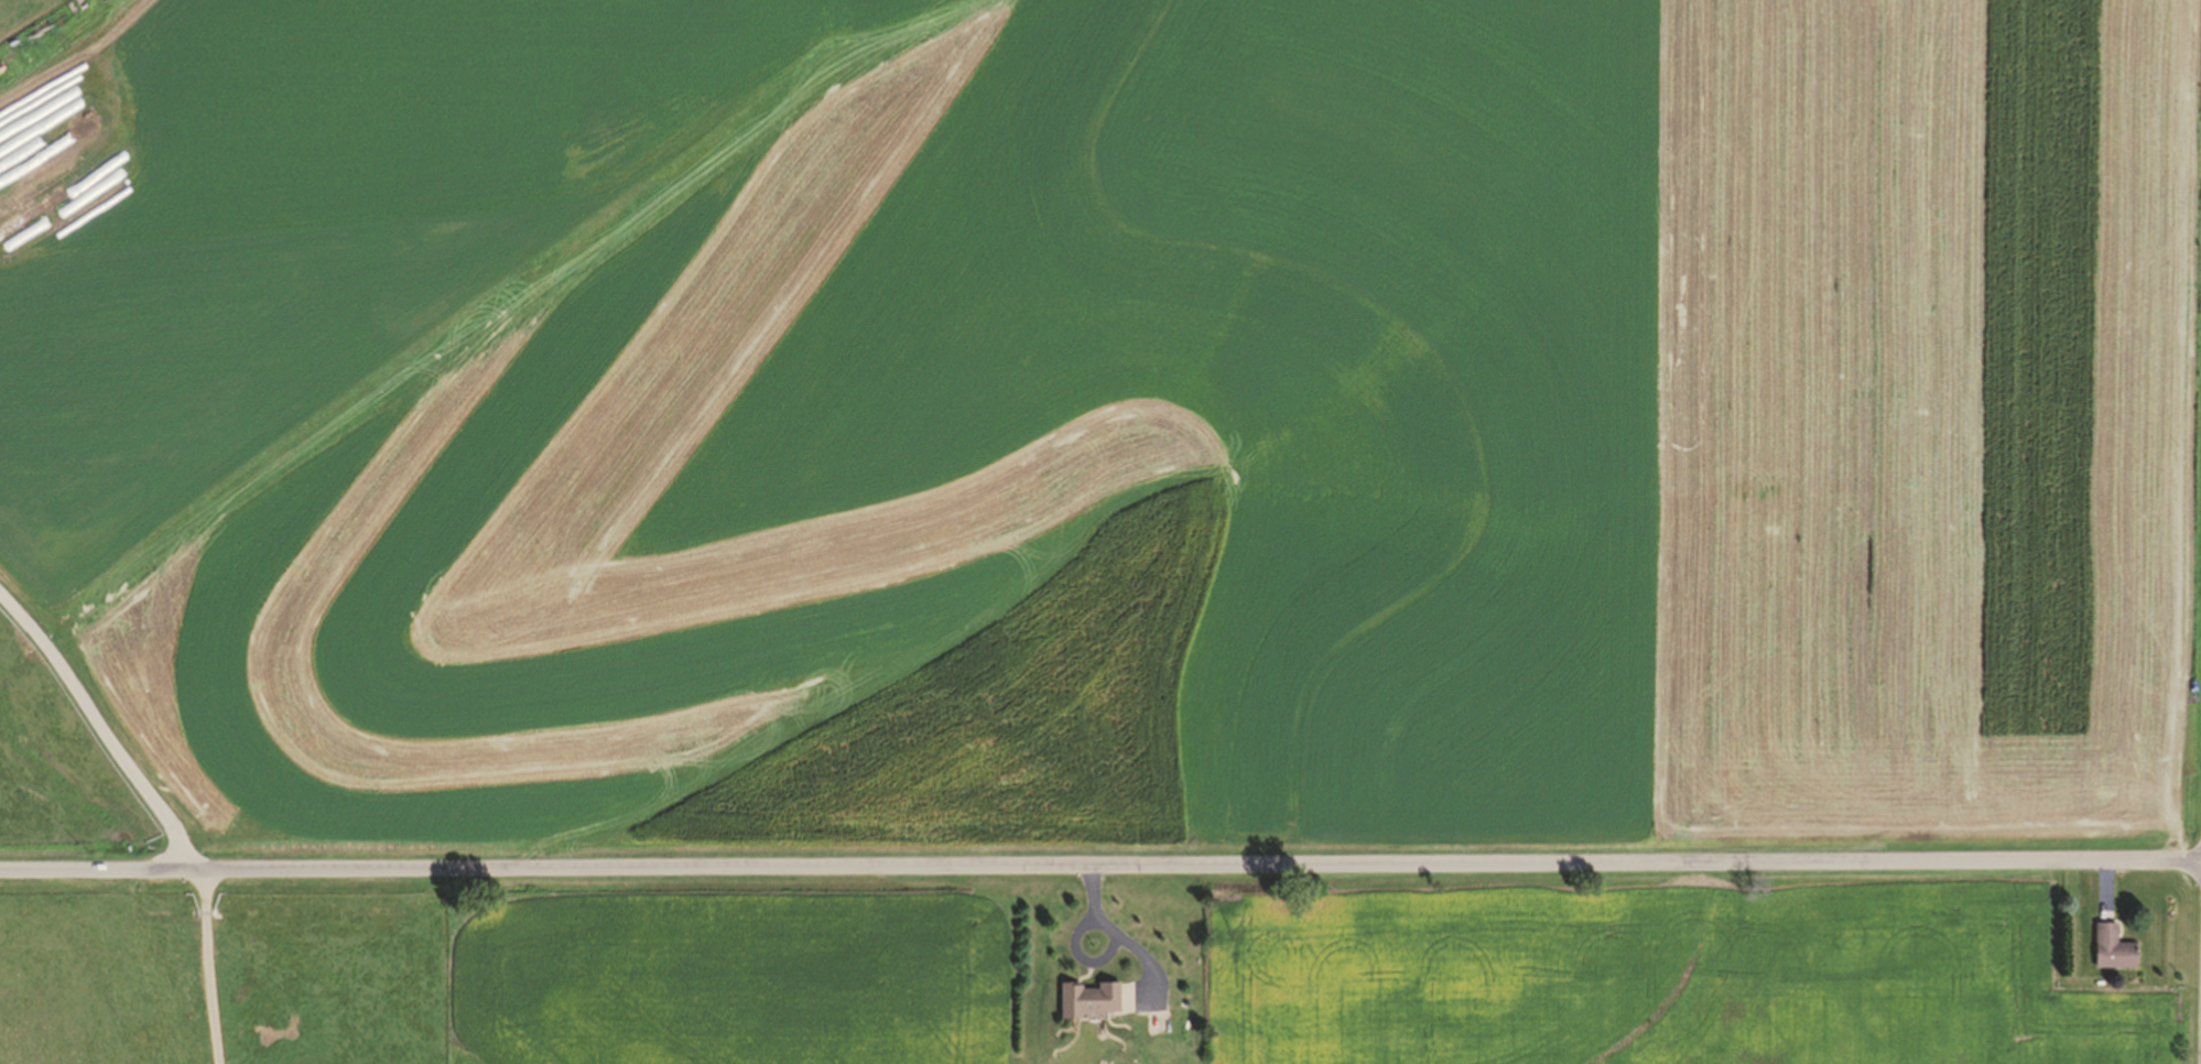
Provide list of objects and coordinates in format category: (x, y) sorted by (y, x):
road: (166, 816)
road: (1099, 858)
road: (1108, 935)
building: (2103, 951)
road: (1076, 962)
building: (1083, 1000)

